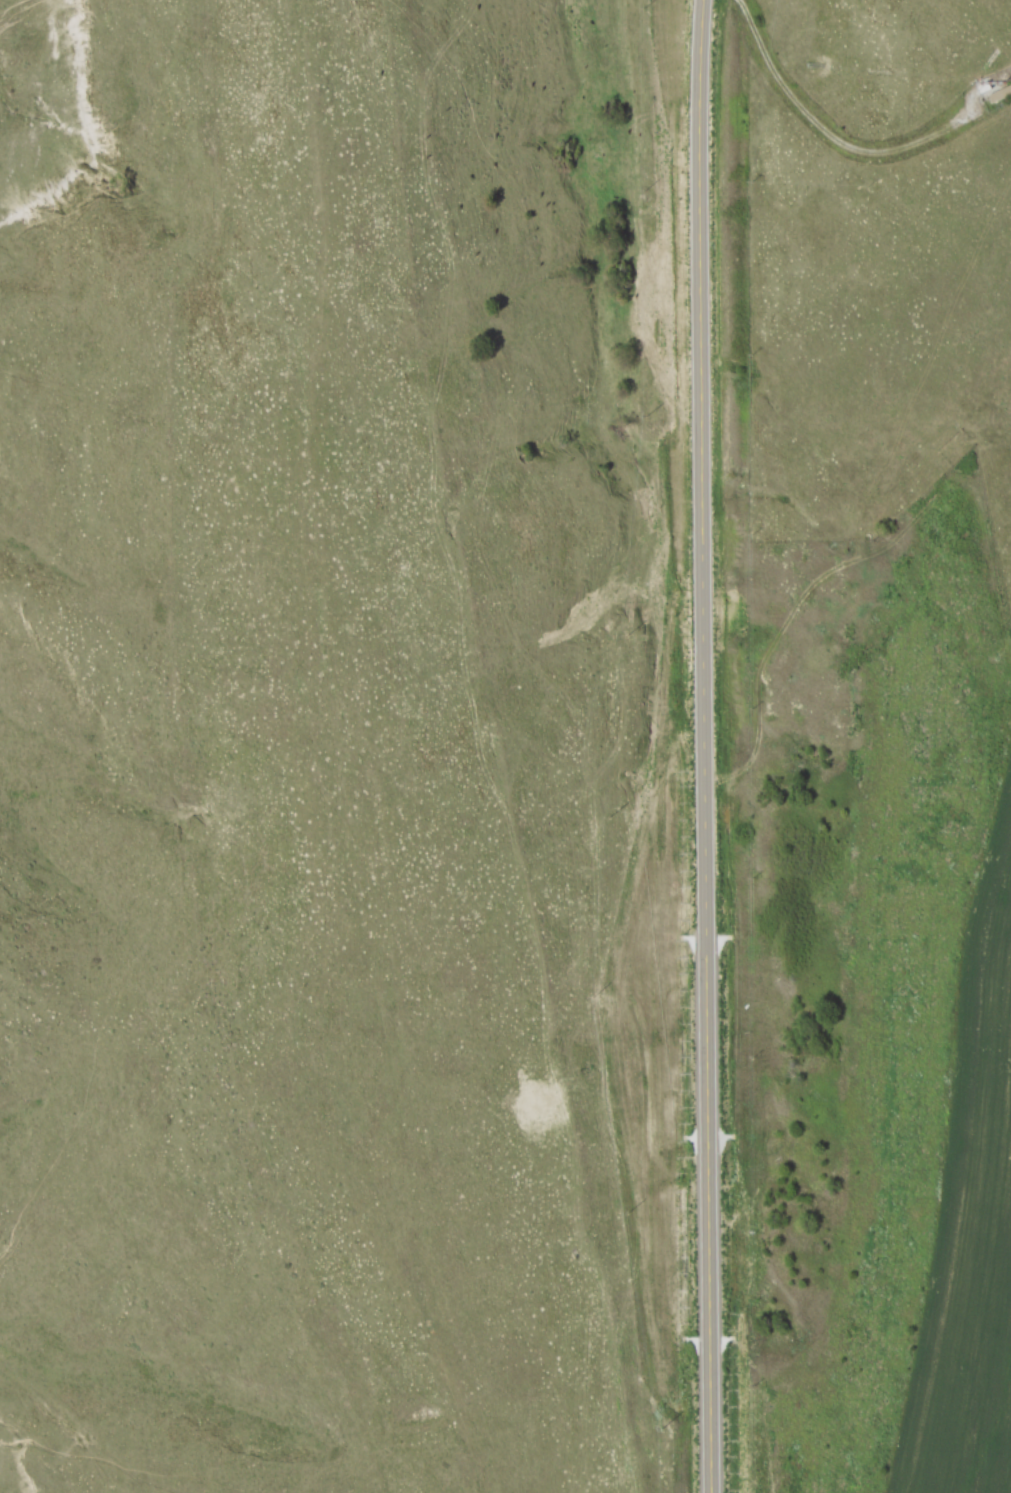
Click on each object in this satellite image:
building: (999, 95)
road: (704, 746)

